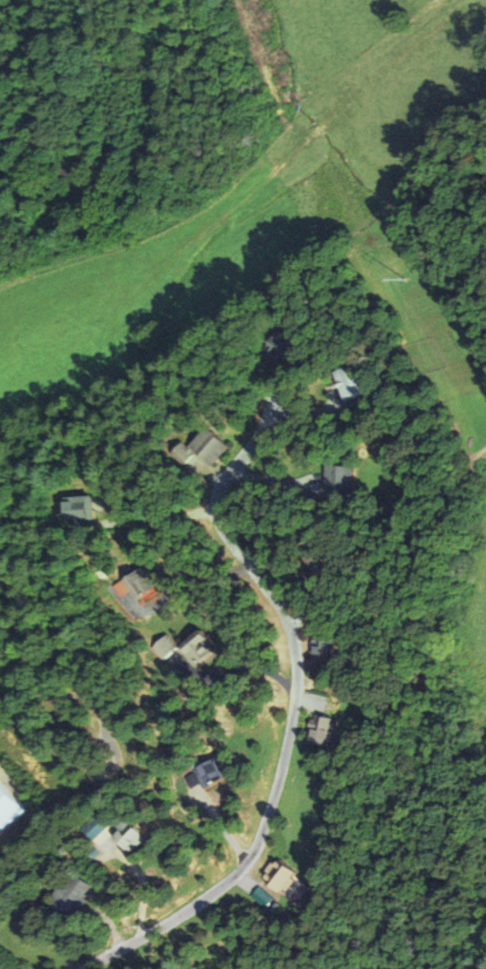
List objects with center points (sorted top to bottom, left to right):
power tower: (397, 284)
building: (277, 346)
building: (352, 380)
building: (205, 447)
building: (340, 479)
building: (78, 507)
building: (139, 584)
building: (320, 643)
building: (164, 646)
building: (197, 647)
road: (276, 726)
building: (319, 728)
building: (209, 771)
building: (7, 809)
building: (126, 834)
building: (279, 876)
building: (70, 895)

